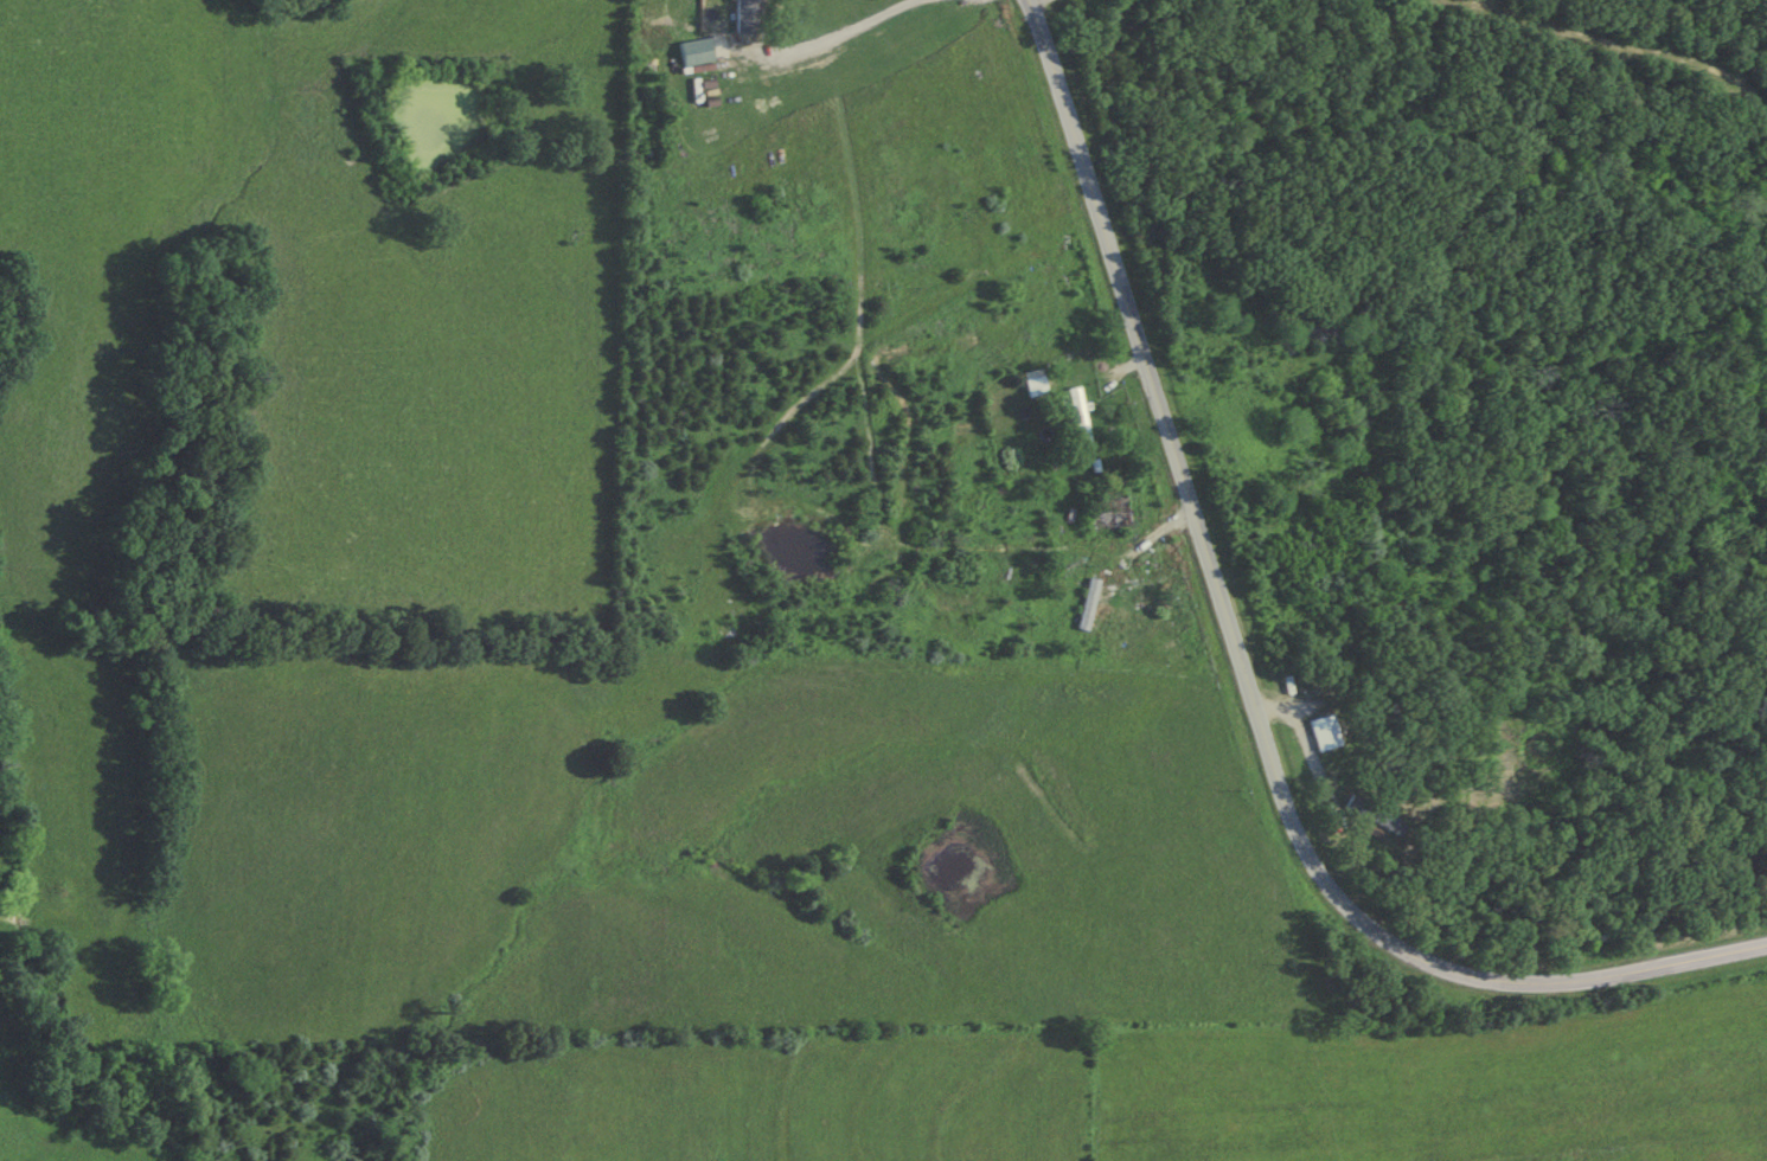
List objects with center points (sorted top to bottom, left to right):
road: (1042, 5)
building: (748, 17)
road: (824, 46)
building: (697, 51)
building: (883, 281)
building: (971, 361)
building: (1078, 417)
building: (1103, 623)
road: (1244, 674)
building: (1324, 733)

